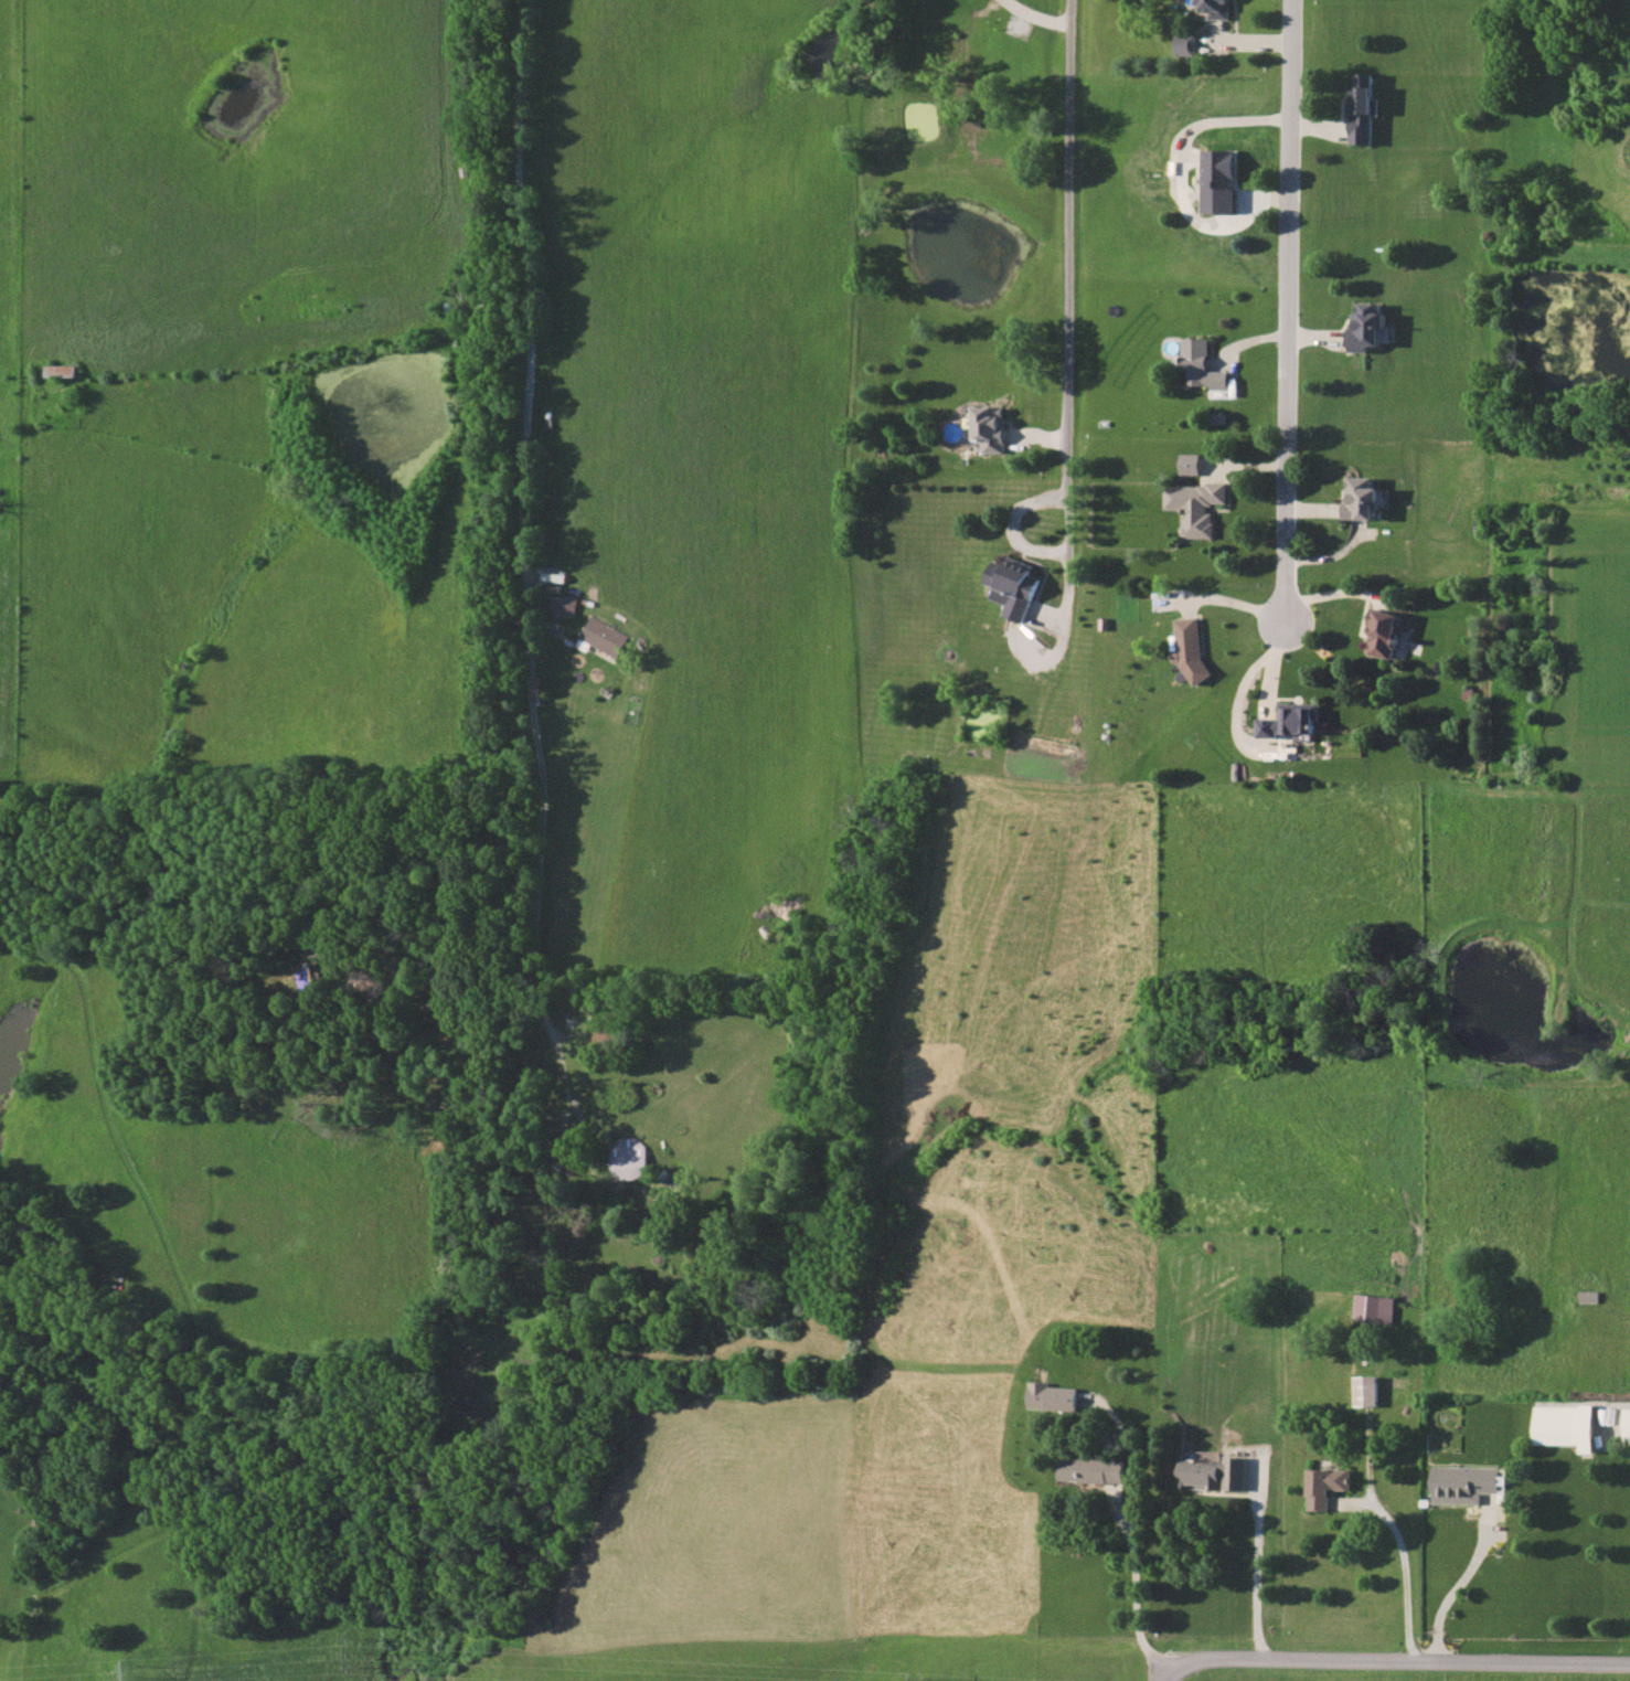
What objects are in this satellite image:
building: (1214, 8)
road: (1035, 17)
building: (1185, 44)
building: (1360, 109)
building: (1218, 181)
road: (1295, 317)
building: (1365, 326)
road: (1068, 329)
building: (1202, 364)
building: (990, 427)
building: (1191, 464)
building: (1361, 498)
building: (1196, 507)
road: (1012, 523)
road: (523, 549)
building: (1013, 586)
building: (1384, 632)
building: (604, 637)
building: (1189, 646)
building: (1289, 720)
road: (448, 1008)
building: (628, 1157)
road: (580, 1164)
building: (1374, 1309)
building: (1367, 1391)
building: (1052, 1396)
building: (1627, 1424)
building: (1564, 1425)
building: (1093, 1470)
building: (1214, 1473)
building: (1463, 1483)
building: (1327, 1486)
road: (1133, 1543)
road: (1256, 1567)
road: (1407, 1578)
road: (1455, 1592)
power tower: (358, 1648)
road: (1392, 1659)
power tower: (138, 1670)
power tower: (918, 1680)

